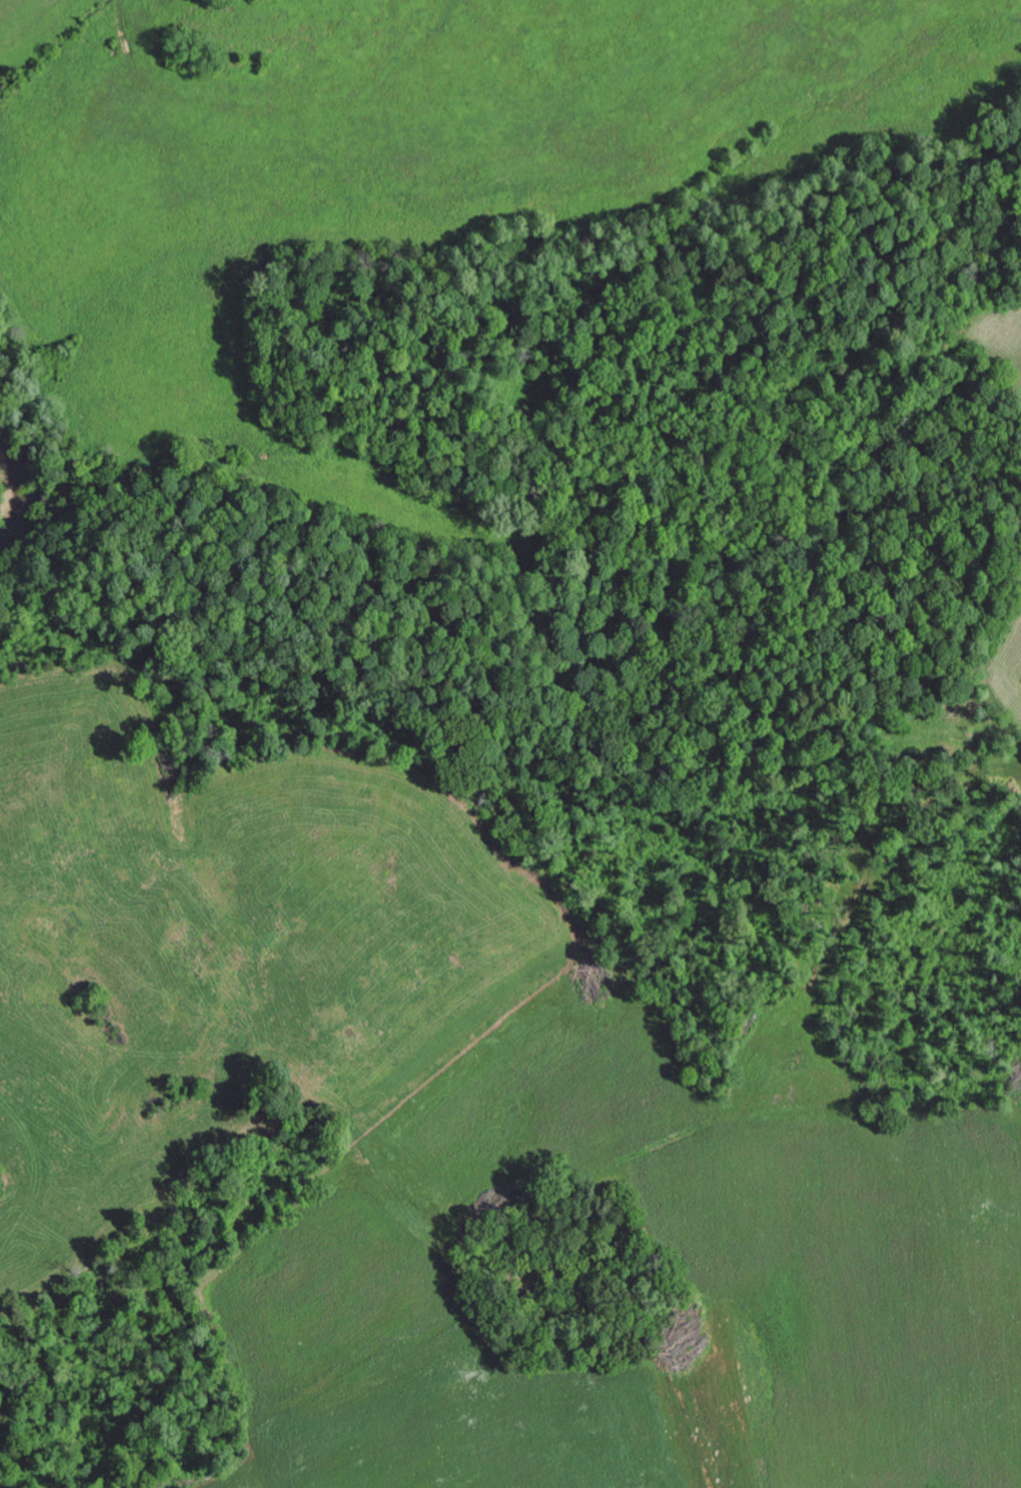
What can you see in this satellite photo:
road: (437, 1183)
road: (656, 1326)

